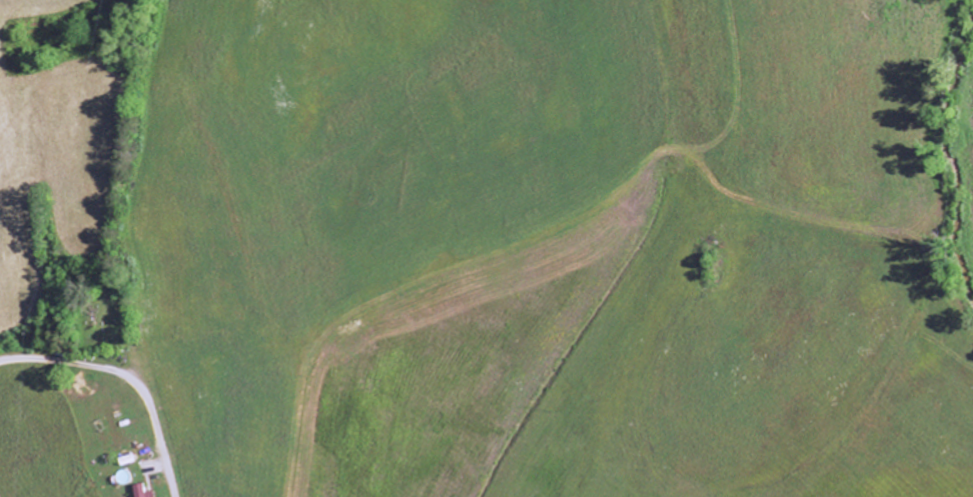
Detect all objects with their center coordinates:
building: (145, 491)

